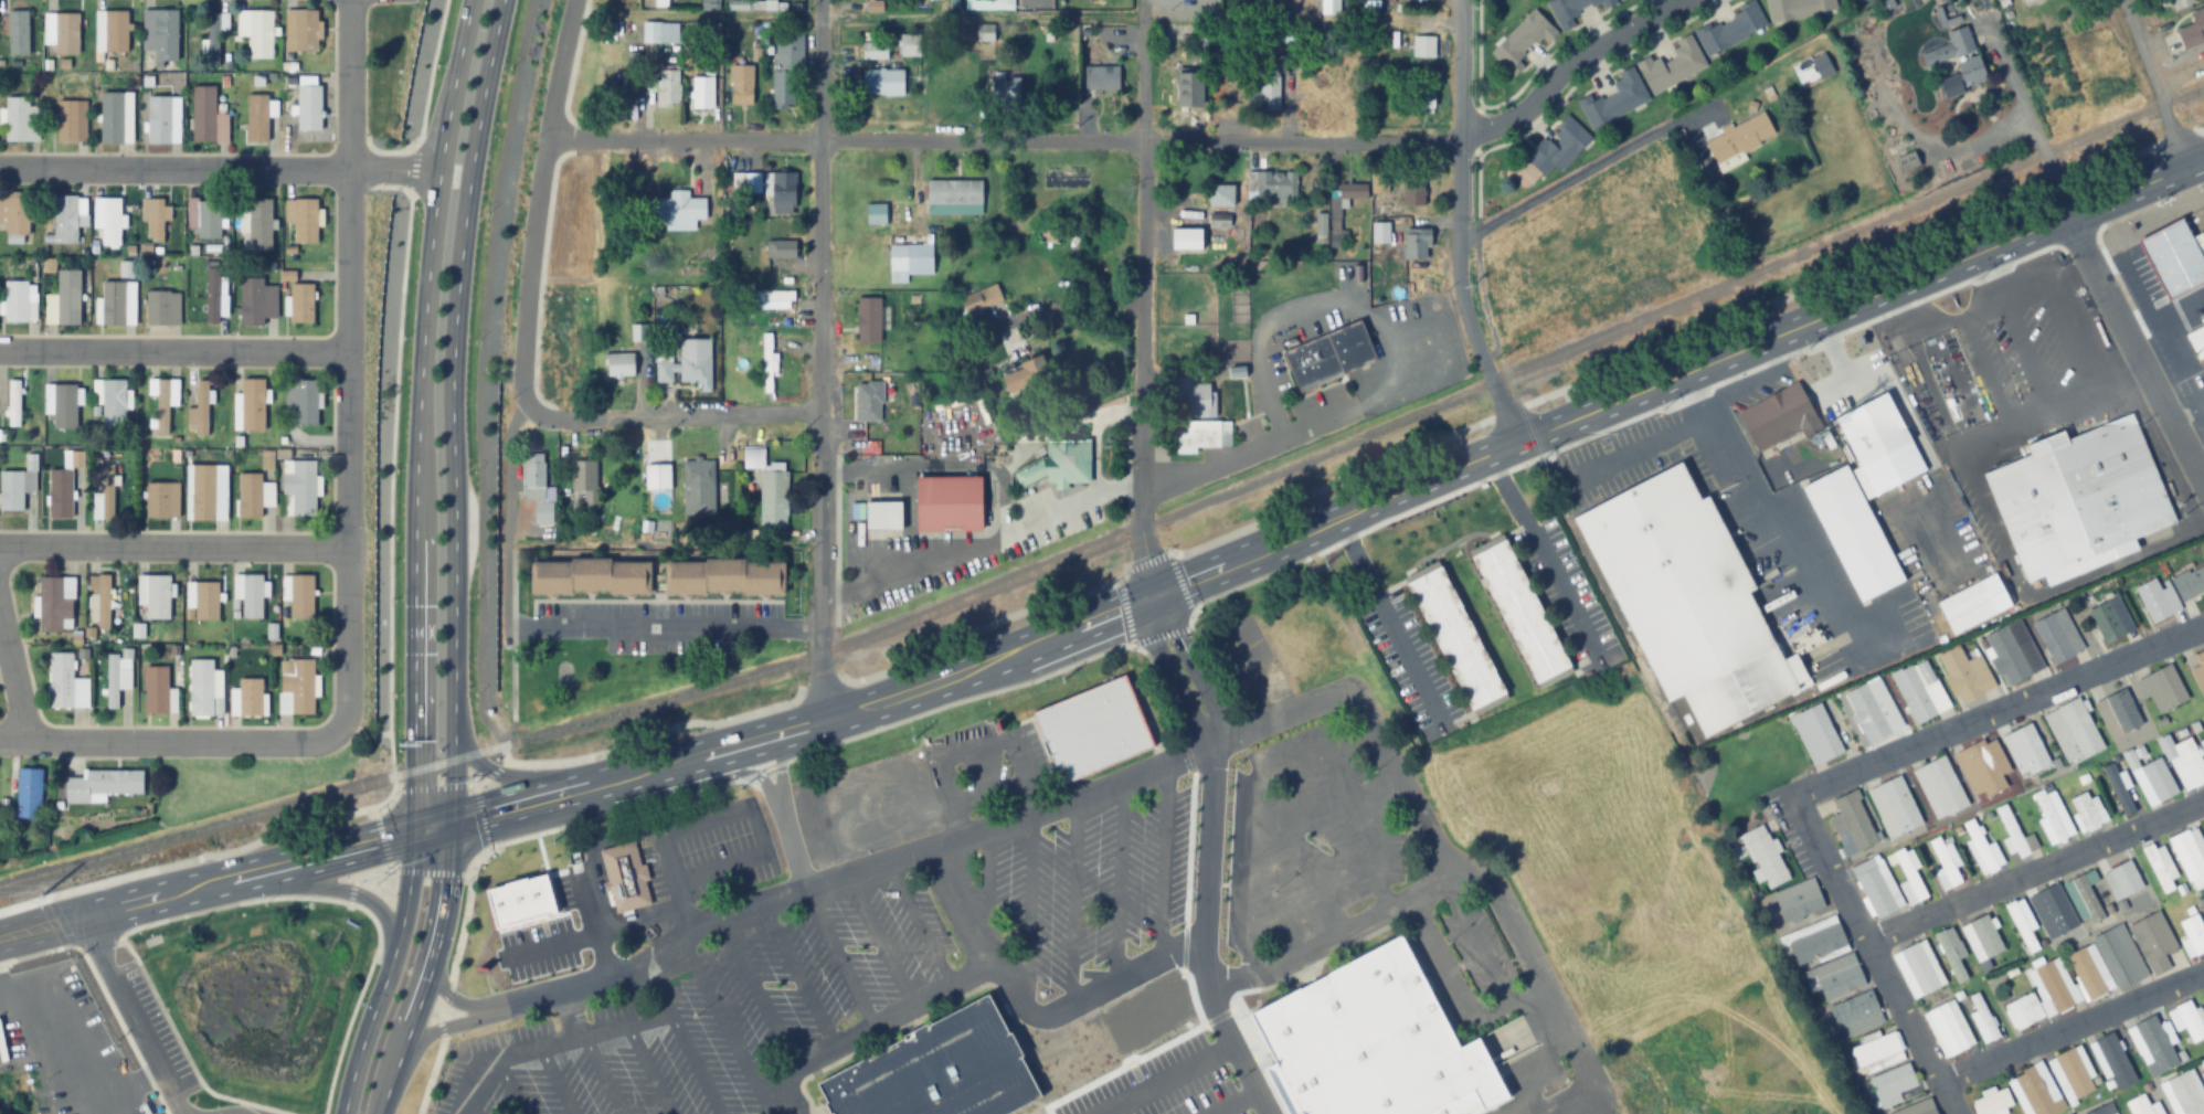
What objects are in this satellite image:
building: (1869, 0)
building: (2027, 1)
building: (2177, 3)
building: (710, 4)
building: (1329, 6)
building: (1797, 9)
building: (1572, 10)
building: (1731, 28)
building: (2192, 28)
building: (306, 29)
building: (18, 32)
building: (116, 32)
building: (985, 32)
building: (66, 33)
building: (261, 34)
building: (166, 35)
building: (212, 39)
building: (1522, 40)
building: (910, 45)
building: (1423, 45)
building: (1953, 45)
building: (875, 50)
road: (1566, 63)
building: (1867, 63)
building: (1672, 64)
building: (1821, 66)
building: (785, 68)
building: (1971, 71)
building: (1101, 78)
building: (883, 82)
road: (2152, 84)
building: (741, 85)
road: (2013, 85)
building: (1268, 86)
building: (669, 87)
building: (614, 88)
building: (1189, 89)
building: (703, 92)
building: (1424, 93)
building: (1915, 96)
building: (1614, 99)
building: (309, 108)
building: (203, 113)
building: (17, 118)
building: (112, 118)
building: (257, 118)
building: (158, 119)
building: (67, 121)
building: (1740, 138)
road: (1004, 139)
building: (1558, 146)
building: (1906, 162)
road: (220, 169)
building: (739, 179)
building: (1380, 180)
road: (2051, 180)
building: (1272, 184)
building: (1413, 190)
building: (783, 191)
building: (1218, 194)
building: (953, 195)
road: (538, 197)
building: (679, 205)
building: (19, 213)
building: (876, 213)
building: (1336, 214)
building: (65, 220)
building: (209, 220)
building: (1218, 220)
building: (112, 221)
building: (155, 221)
building: (305, 221)
building: (259, 224)
road: (1459, 227)
building: (1427, 238)
building: (1414, 243)
building: (782, 248)
building: (2174, 255)
building: (910, 258)
building: (127, 268)
road: (2136, 284)
road: (2023, 288)
building: (211, 295)
building: (67, 296)
building: (770, 299)
road: (1144, 299)
building: (15, 301)
building: (113, 303)
building: (252, 303)
building: (301, 303)
building: (1238, 303)
building: (987, 307)
building: (158, 308)
road: (2163, 310)
road: (1956, 316)
building: (867, 320)
building: (638, 331)
building: (2196, 338)
road: (174, 351)
road: (2134, 352)
building: (1342, 357)
road: (823, 359)
road: (454, 360)
building: (766, 362)
building: (618, 363)
building: (696, 369)
road: (1984, 369)
road: (1883, 370)
road: (349, 371)
building: (1010, 381)
road: (1832, 388)
road: (480, 390)
building: (305, 402)
building: (867, 402)
building: (114, 403)
building: (252, 403)
building: (13, 404)
building: (64, 405)
building: (163, 405)
building: (202, 406)
road: (2186, 412)
road: (668, 417)
building: (1776, 417)
road: (1707, 421)
road: (1999, 427)
building: (1214, 433)
building: (1878, 445)
road: (1635, 449)
building: (753, 457)
building: (1058, 465)
road: (2200, 470)
building: (582, 475)
building: (657, 475)
building: (533, 478)
building: (301, 486)
building: (698, 486)
building: (11, 491)
building: (202, 491)
building: (107, 492)
building: (60, 494)
building: (250, 494)
building: (2077, 495)
building: (773, 497)
building: (162, 499)
building: (949, 502)
building: (882, 514)
road: (1939, 522)
road: (1320, 528)
railway: (1116, 532)
road: (174, 547)
road: (1803, 553)
road: (414, 560)
building: (724, 575)
building: (589, 576)
building: (2190, 583)
building: (252, 595)
building: (300, 595)
building: (157, 596)
building: (1687, 598)
building: (206, 600)
building: (2157, 600)
building: (104, 602)
building: (53, 604)
building: (1972, 604)
building: (1520, 611)
building: (2111, 619)
building: (1454, 635)
building: (2057, 636)
building: (2012, 654)
building: (2198, 672)
building: (1964, 676)
road: (13, 679)
building: (62, 681)
building: (113, 681)
building: (300, 686)
building: (201, 688)
building: (2161, 689)
building: (155, 690)
building: (1919, 691)
building: (250, 697)
road: (1522, 707)
building: (1869, 710)
road: (1996, 712)
building: (2117, 714)
building: (1091, 728)
building: (2073, 731)
building: (2203, 731)
building: (1818, 735)
road: (166, 741)
building: (2202, 743)
building: (2025, 751)
building: (2184, 762)
building: (1983, 768)
road: (524, 776)
building: (2151, 779)
building: (100, 786)
building: (1940, 788)
building: (2118, 791)
building: (29, 794)
building: (1894, 808)
building: (2087, 813)
building: (2052, 816)
traffic signals: (456, 820)
building: (1852, 821)
traffic signals: (414, 831)
building: (2014, 835)
road: (754, 839)
road: (1206, 845)
road: (937, 847)
building: (1981, 849)
building: (2190, 856)
building: (1765, 857)
road: (1163, 864)
building: (1946, 864)
building: (2160, 866)
road: (2035, 873)
building: (624, 876)
building: (1908, 877)
road: (675, 882)
road: (206, 884)
road: (1116, 884)
building: (2127, 884)
road: (320, 888)
building: (1874, 889)
power tower: (43, 892)
building: (2084, 898)
building: (1798, 901)
road: (1069, 905)
road: (1025, 906)
road: (957, 912)
building: (2053, 912)
road: (445, 924)
building: (2022, 924)
road: (920, 925)
building: (2192, 935)
building: (1981, 938)
road: (879, 941)
building: (1815, 942)
building: (2153, 944)
road: (1304, 945)
building: (1951, 954)
road: (838, 956)
road: (656, 957)
road: (1873, 957)
building: (2119, 957)
building: (1918, 969)
building: (2086, 973)
road: (795, 974)
building: (1839, 978)
building: (2049, 987)
road: (756, 991)
road: (456, 999)
building: (1853, 1009)
building: (2023, 1011)
road: (138, 1015)
road: (569, 1016)
road: (724, 1020)
building: (1982, 1020)
building: (2187, 1020)
road: (2069, 1025)
road: (622, 1026)
road: (449, 1028)
building: (1948, 1029)
building: (1373, 1043)
building: (2152, 1047)
road: (1237, 1052)
building: (1876, 1052)
road: (510, 1057)
building: (2111, 1060)
building: (2203, 1061)
road: (693, 1064)
road: (647, 1070)
building: (937, 1070)
building: (2203, 1073)
road: (597, 1075)
building: (2071, 1075)
road: (1164, 1078)
road: (555, 1081)
building: (1893, 1085)
building: (2035, 1091)
building: (2183, 1092)
road: (511, 1093)
road: (1232, 1102)
building: (1992, 1102)
building: (2142, 1105)
road: (1518, 1106)
building: (1916, 1107)
building: (2102, 1110)
road: (474, 1112)
road: (1103, 1112)

